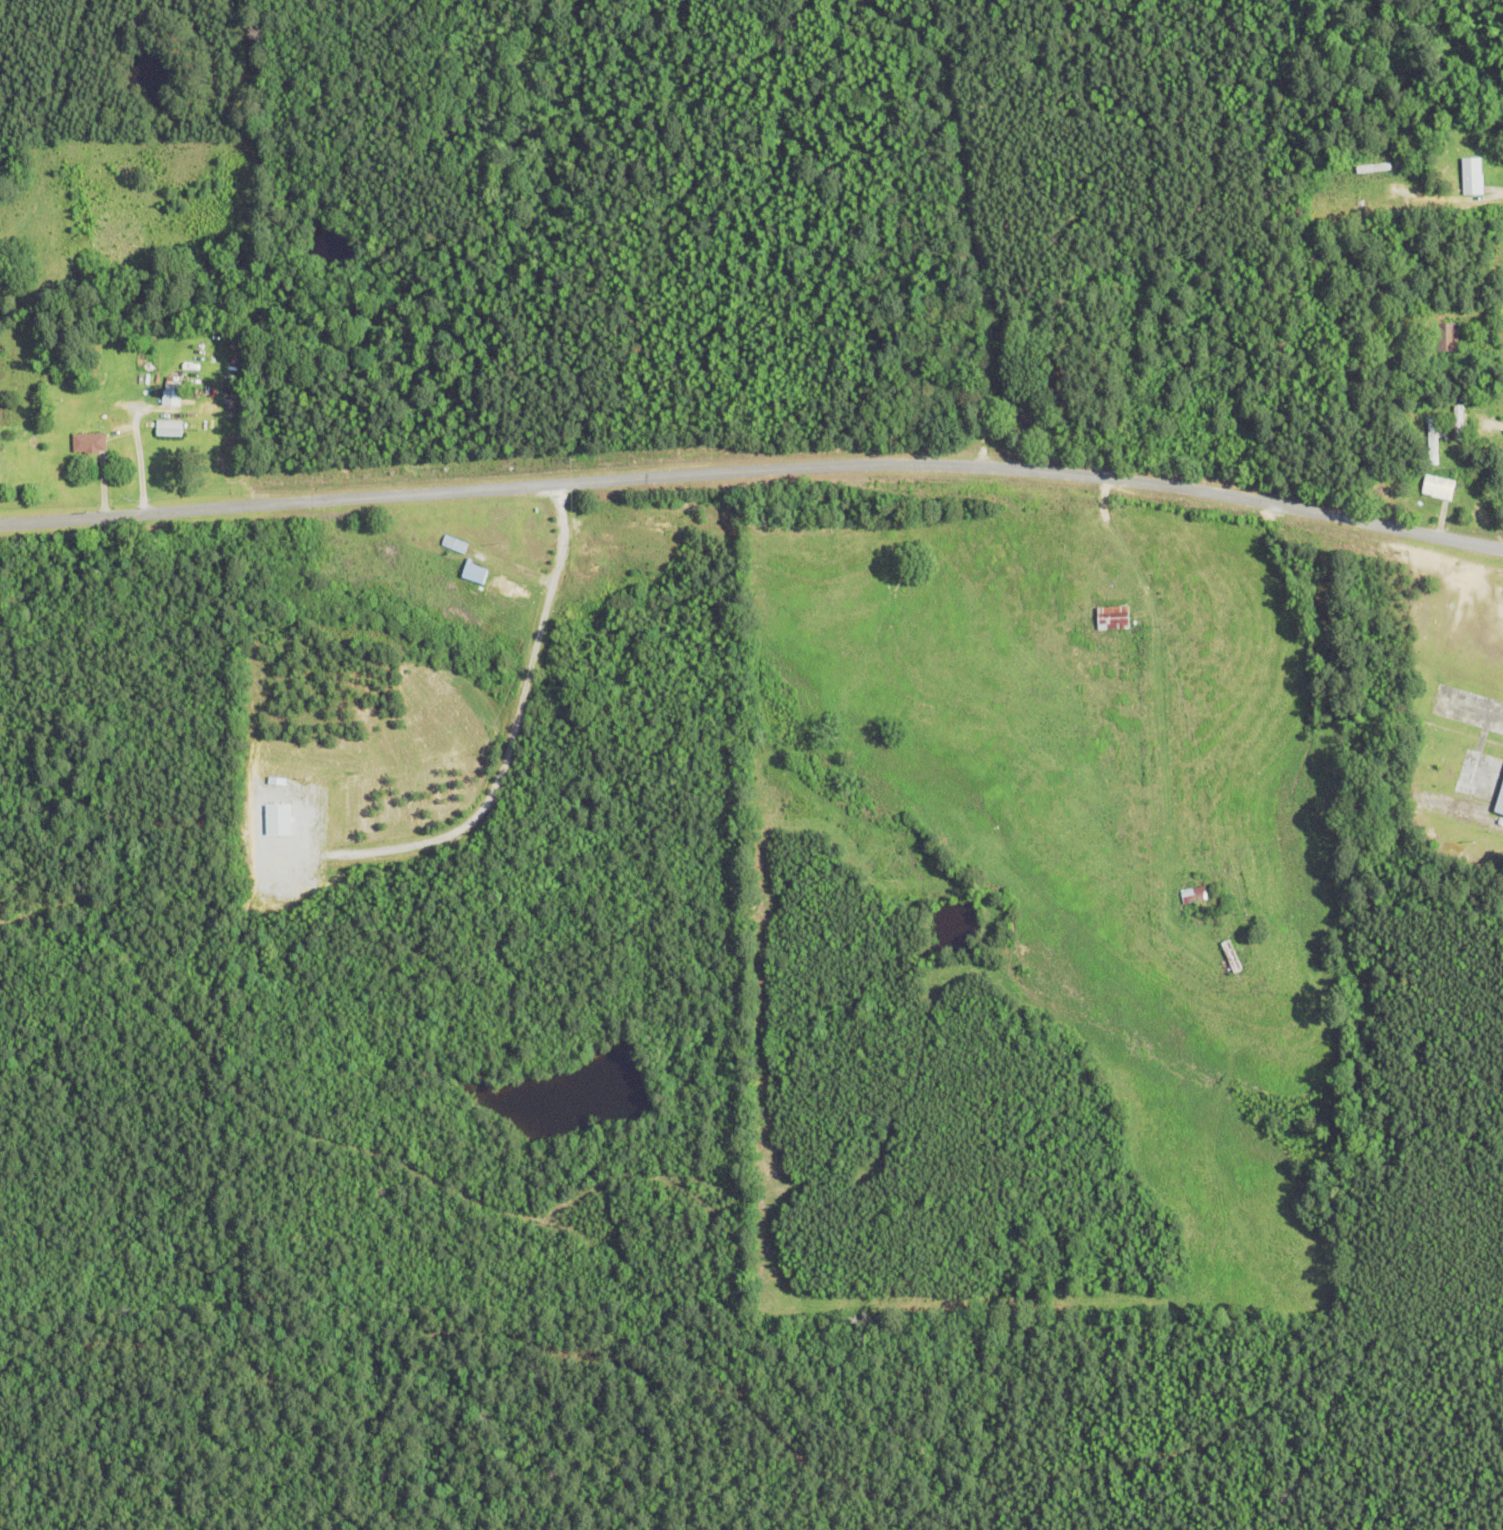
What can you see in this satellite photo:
building: (1470, 175)
building: (1342, 206)
road: (973, 221)
building: (1444, 335)
building: (170, 390)
building: (166, 427)
building: (87, 442)
road: (754, 468)
building: (1435, 486)
building: (472, 572)
building: (509, 588)
building: (1110, 618)
building: (1501, 802)
building: (1192, 894)

